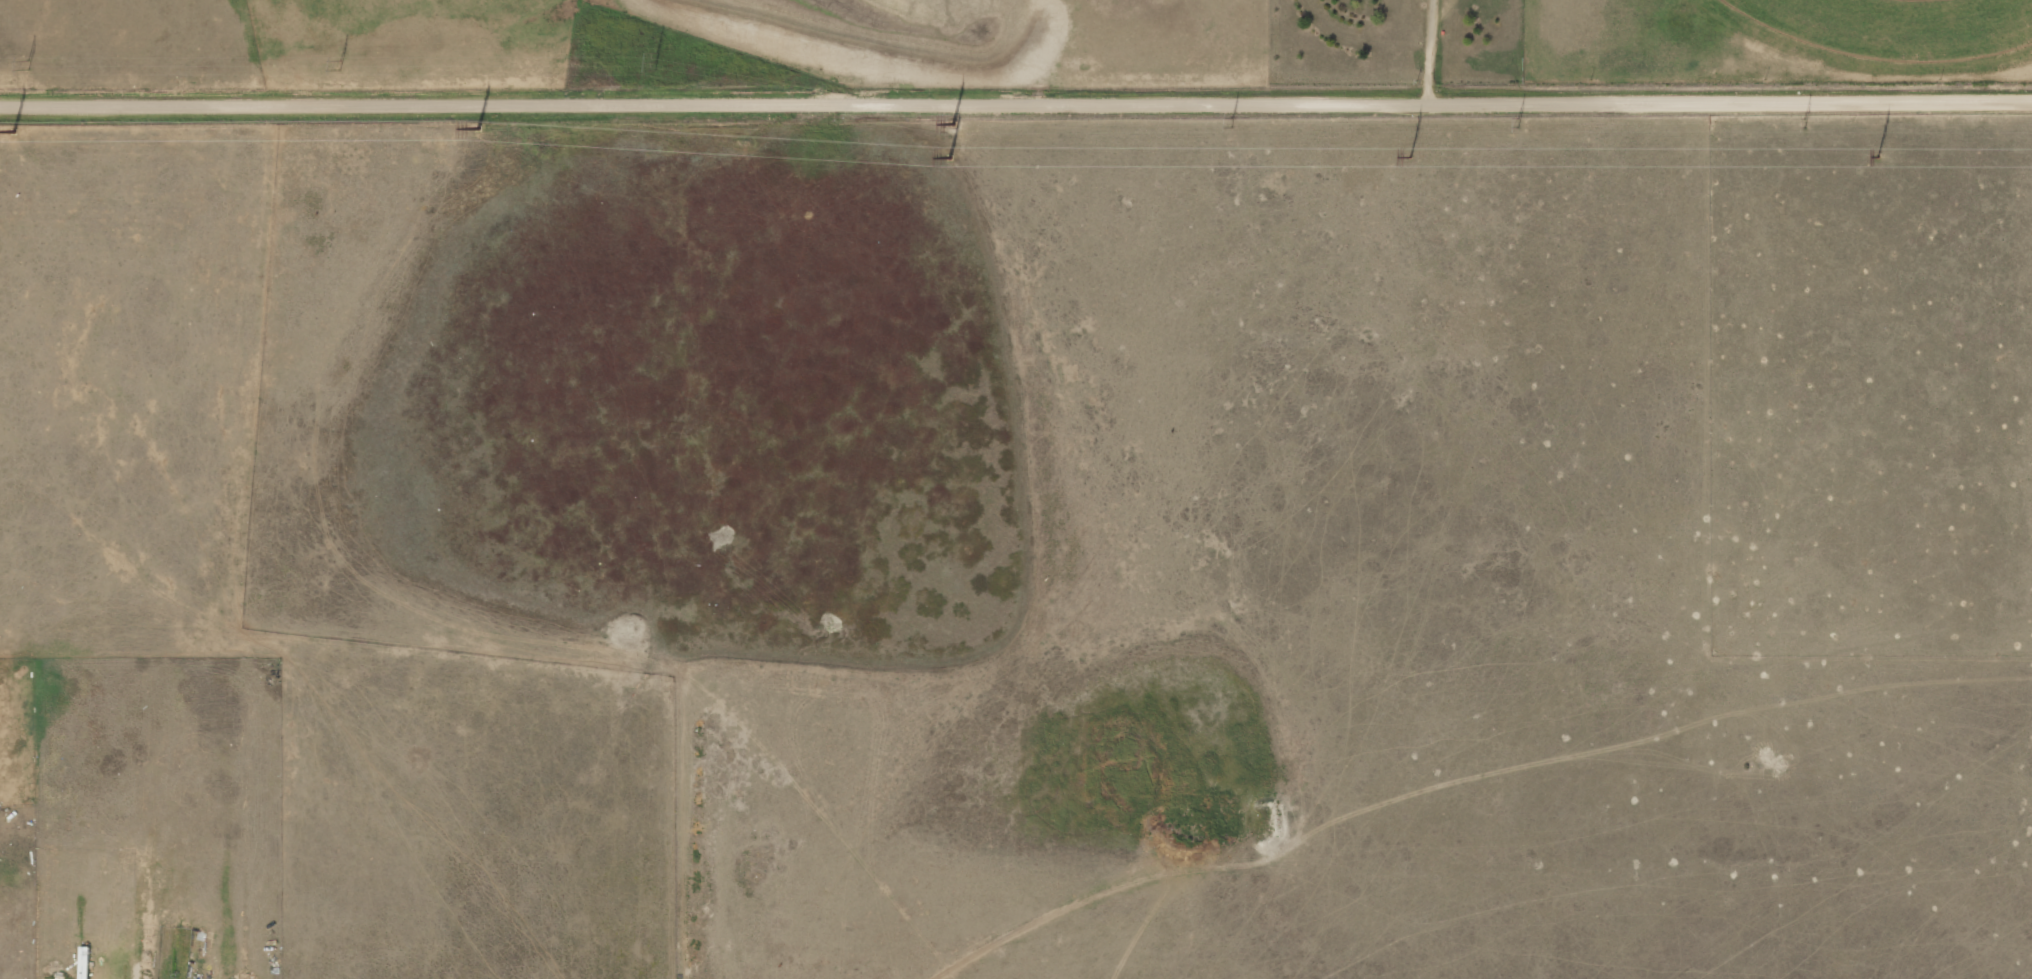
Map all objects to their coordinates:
crop: (1891, 32)
power tower: (655, 62)
power tower: (27, 65)
power tower: (340, 66)
road: (1015, 100)
power tower: (1232, 122)
power tower: (1516, 122)
power tower: (1805, 124)
power tower: (953, 125)
power tower: (477, 129)
power tower: (12, 132)
power tower: (1408, 157)
power tower: (1875, 157)
power tower: (947, 159)

